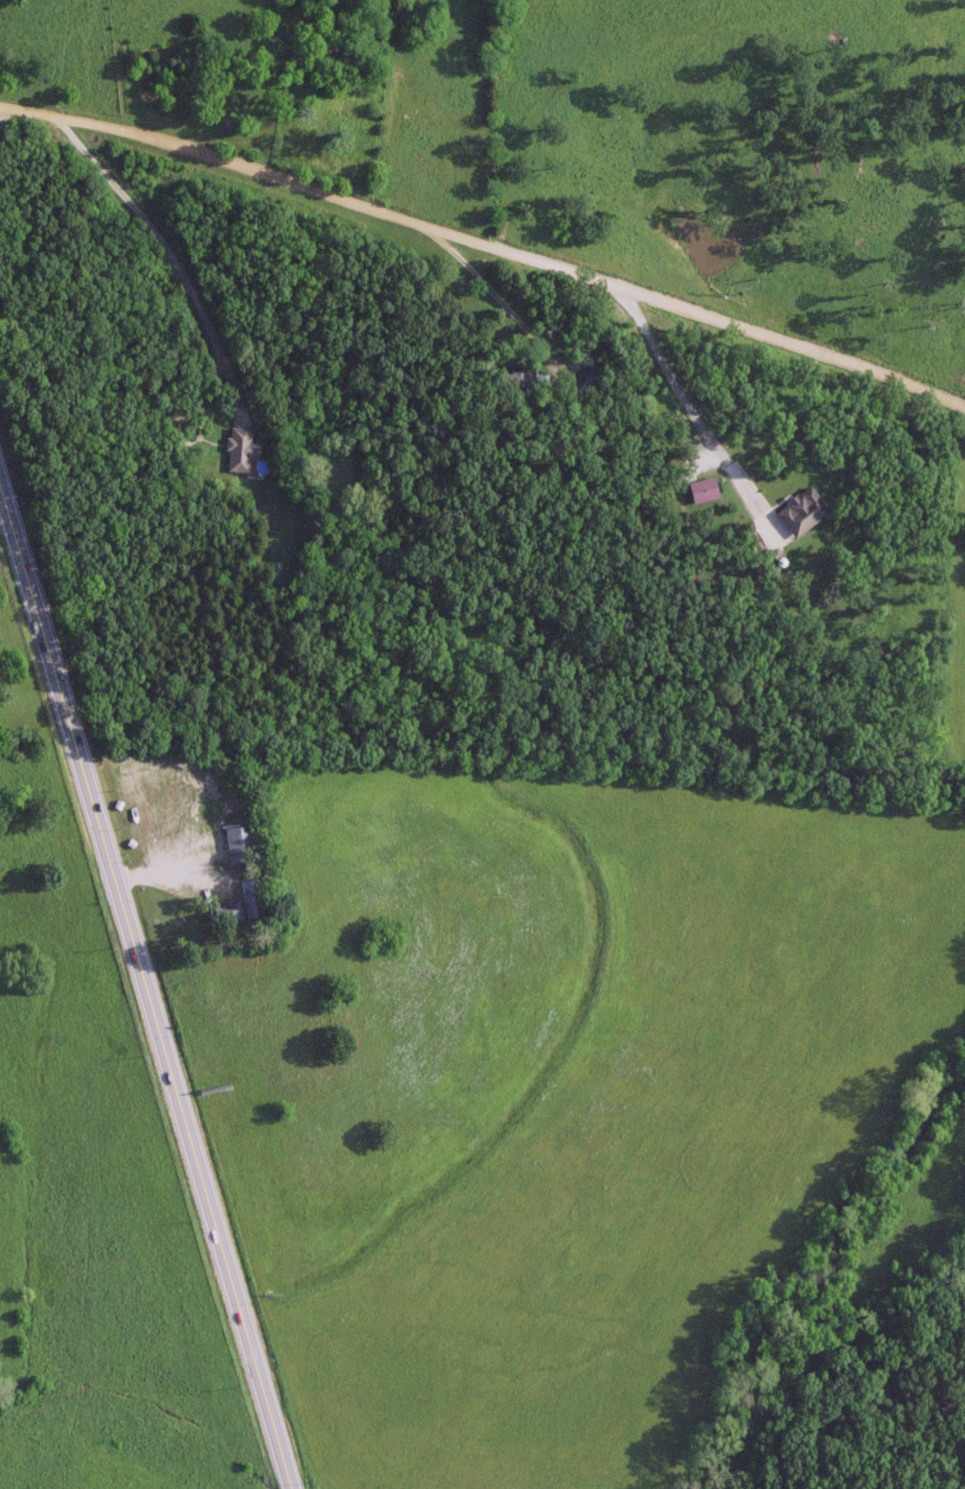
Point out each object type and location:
building: (244, 95)
road: (487, 234)
building: (520, 377)
building: (579, 379)
building: (237, 448)
building: (700, 488)
building: (799, 510)
building: (273, 570)
building: (236, 842)
building: (247, 897)
building: (221, 910)
road: (144, 1011)
building: (211, 1087)

